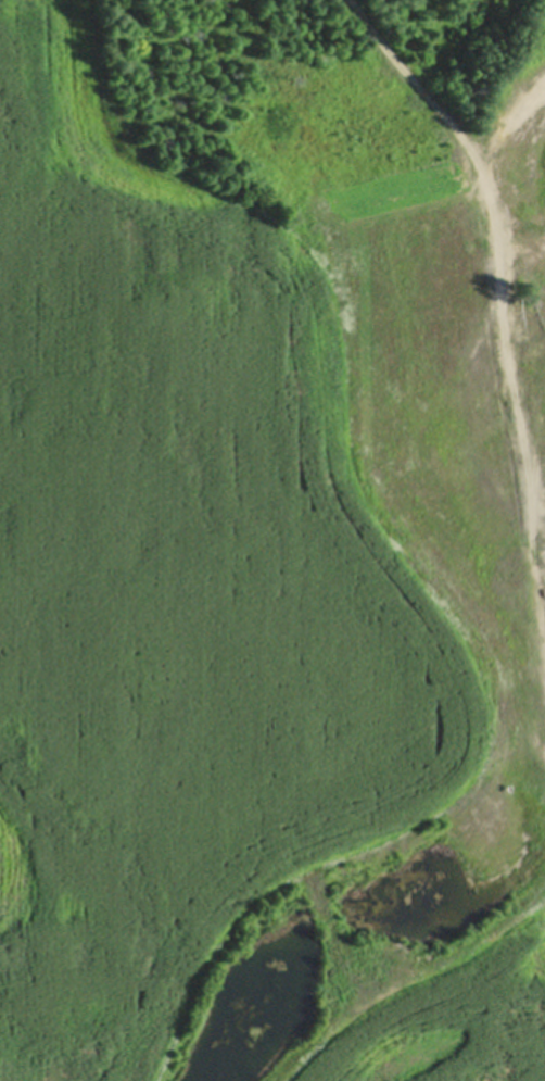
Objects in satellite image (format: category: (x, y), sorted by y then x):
road: (496, 243)
quarry: (388, 462)

